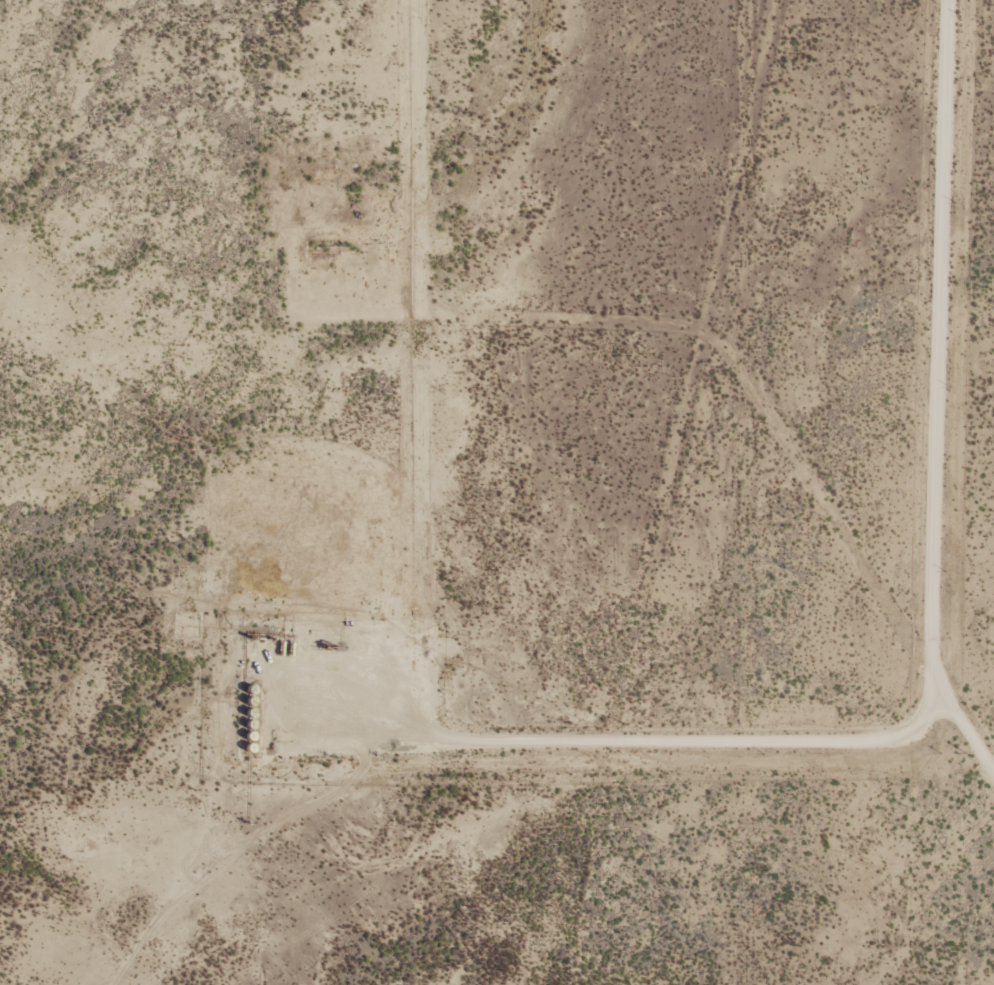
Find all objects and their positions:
road: (655, 490)

